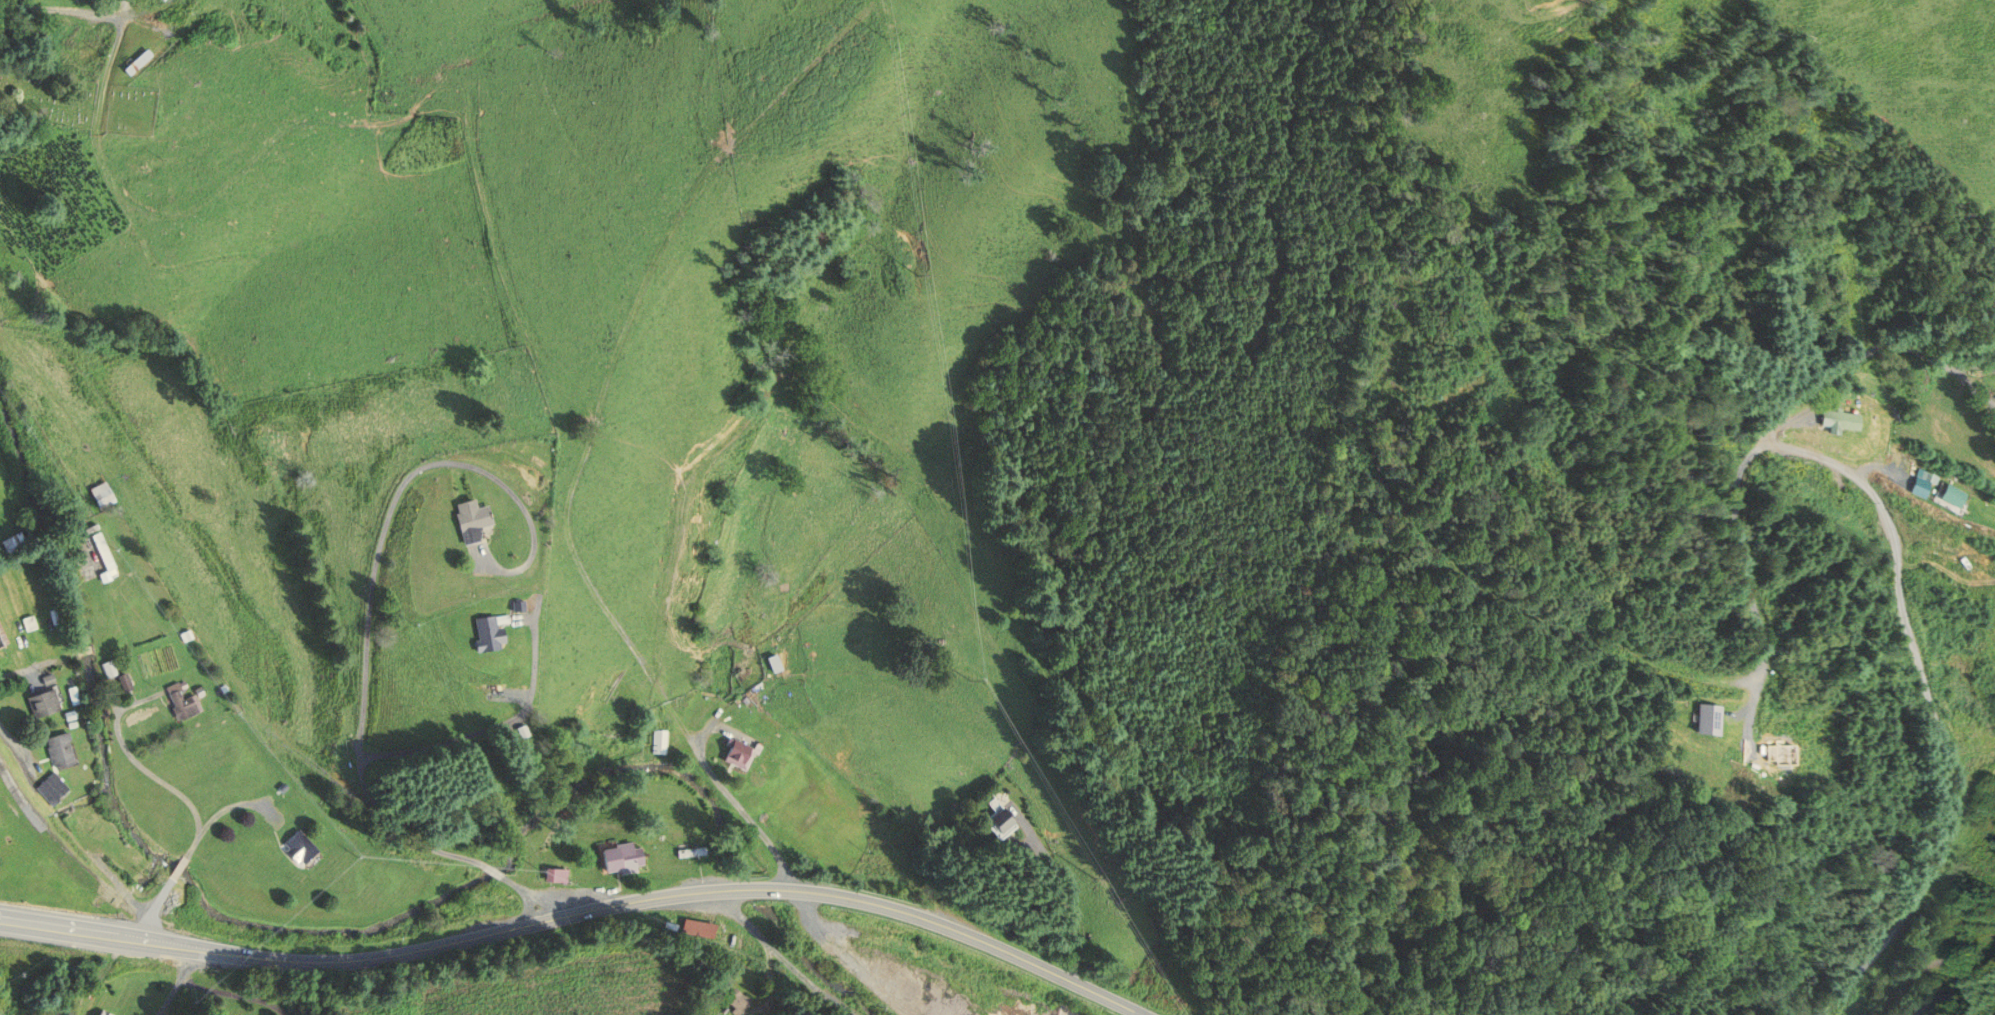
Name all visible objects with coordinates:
building: (167, 0)
building: (198, 16)
building: (142, 63)
park: (79, 100)
road: (1919, 184)
road: (124, 207)
road: (1871, 235)
building: (1837, 420)
building: (104, 495)
building: (1948, 496)
building: (460, 519)
building: (15, 543)
road: (1750, 577)
road: (1896, 578)
road: (372, 584)
building: (512, 606)
building: (478, 633)
building: (3, 639)
building: (109, 670)
building: (75, 696)
road: (1980, 696)
building: (186, 703)
building: (44, 704)
road: (489, 732)
building: (661, 742)
road: (20, 747)
building: (62, 751)
building: (736, 753)
road: (148, 771)
building: (53, 789)
road: (16, 793)
road: (739, 807)
building: (92, 821)
building: (992, 823)
building: (291, 848)
building: (621, 858)
road: (178, 868)
road: (492, 870)
building: (551, 875)
road: (537, 895)
road: (149, 908)
road: (580, 913)
road: (178, 981)
building: (731, 1002)
building: (315, 1008)
building: (101, 1012)

